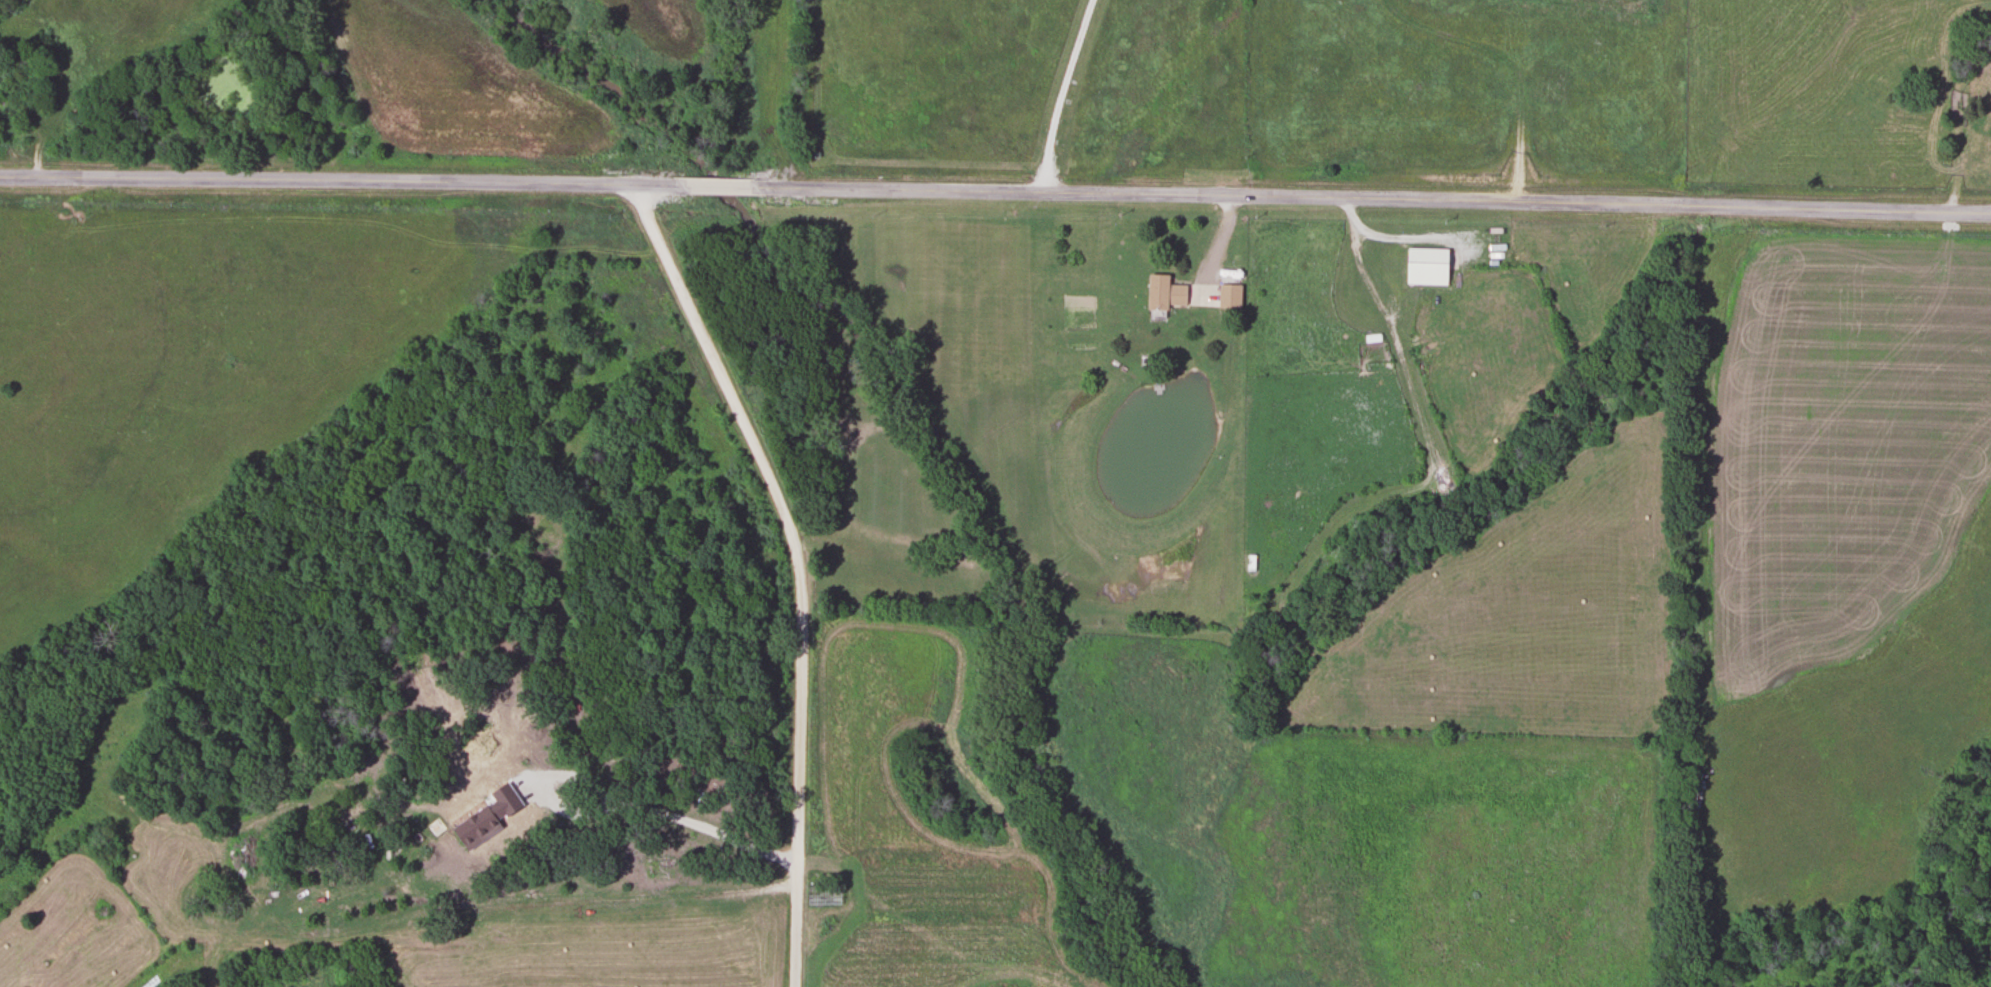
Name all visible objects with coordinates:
road: (995, 190)
building: (1425, 267)
building: (1228, 290)
building: (1163, 294)
road: (799, 568)
building: (822, 896)

